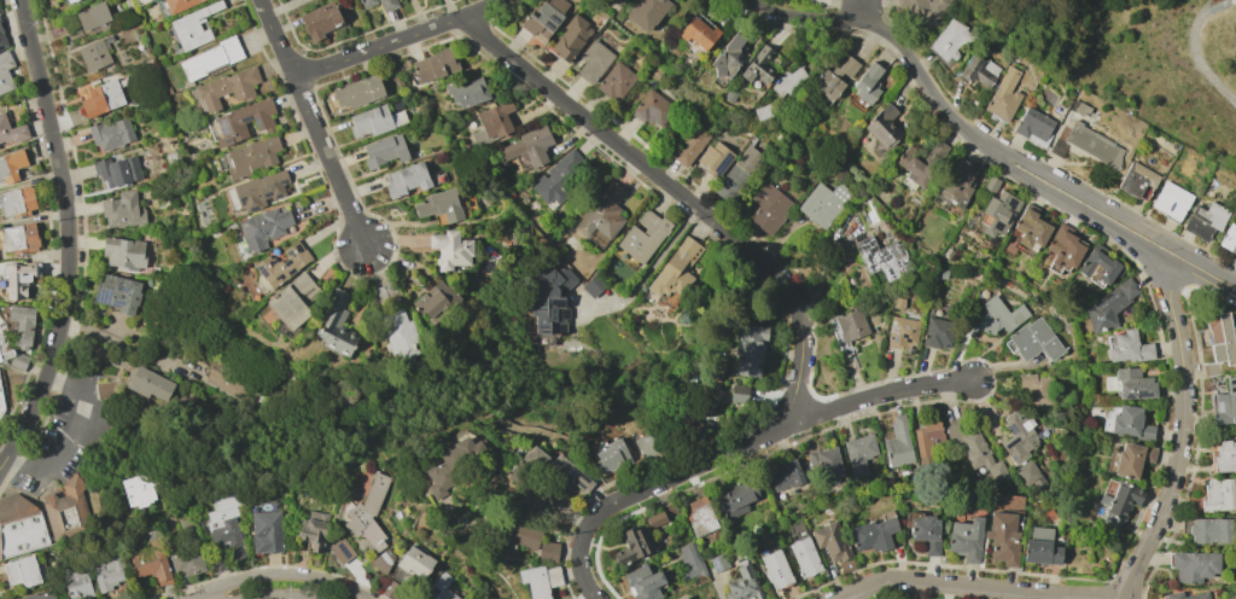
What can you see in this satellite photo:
building: (68, 1)
building: (366, 2)
building: (179, 4)
building: (386, 5)
road: (858, 8)
building: (925, 10)
building: (647, 13)
building: (92, 17)
building: (544, 18)
building: (320, 21)
road: (868, 23)
building: (191, 29)
building: (696, 34)
road: (275, 36)
building: (570, 39)
building: (2, 40)
building: (948, 40)
road: (398, 41)
building: (93, 54)
building: (728, 56)
building: (210, 59)
building: (593, 62)
building: (433, 65)
building: (758, 68)
building: (978, 70)
building: (5, 71)
building: (835, 77)
building: (616, 82)
building: (787, 82)
building: (868, 82)
building: (226, 88)
building: (357, 92)
building: (467, 92)
building: (1003, 95)
building: (100, 98)
building: (1078, 107)
building: (652, 109)
building: (373, 121)
building: (243, 122)
building: (492, 123)
building: (882, 126)
building: (1033, 127)
building: (11, 130)
road: (969, 132)
building: (111, 134)
building: (688, 144)
building: (1088, 145)
building: (527, 149)
building: (384, 150)
road: (328, 155)
building: (250, 156)
building: (715, 158)
building: (921, 162)
building: (11, 167)
building: (117, 171)
building: (737, 174)
building: (559, 176)
building: (406, 179)
building: (1136, 179)
building: (956, 181)
building: (990, 185)
building: (260, 190)
road: (681, 194)
building: (1171, 199)
building: (17, 200)
building: (823, 203)
building: (769, 208)
building: (122, 210)
road: (1078, 210)
road: (1112, 211)
building: (601, 213)
building: (999, 214)
building: (1205, 220)
building: (264, 227)
building: (1030, 228)
building: (642, 235)
building: (1228, 235)
building: (18, 238)
road: (70, 238)
building: (1062, 249)
building: (449, 250)
building: (122, 254)
building: (882, 258)
building: (282, 263)
building: (1097, 266)
road: (651, 268)
building: (675, 273)
building: (18, 279)
road: (1207, 283)
building: (593, 285)
building: (117, 292)
building: (293, 301)
building: (435, 301)
building: (550, 301)
building: (1109, 306)
building: (997, 315)
building: (0, 320)
building: (851, 325)
building: (21, 326)
building: (336, 326)
building: (1, 330)
building: (902, 332)
building: (937, 332)
building: (398, 335)
building: (1034, 341)
building: (1219, 342)
building: (1127, 347)
building: (4, 349)
building: (748, 349)
building: (150, 384)
building: (1132, 384)
building: (1036, 389)
building: (105, 390)
building: (737, 394)
building: (1225, 403)
building: (1, 407)
building: (1130, 423)
road: (70, 434)
building: (1016, 437)
road: (1182, 437)
building: (926, 441)
building: (898, 443)
building: (648, 444)
road: (735, 448)
building: (858, 454)
building: (980, 454)
building: (612, 455)
building: (1224, 455)
building: (1132, 459)
building: (824, 464)
building: (455, 465)
building: (556, 469)
building: (1028, 473)
building: (785, 475)
building: (136, 492)
building: (1218, 495)
building: (736, 498)
building: (1120, 500)
building: (4, 510)
building: (69, 511)
building: (366, 516)
building: (700, 516)
building: (654, 519)
building: (186, 525)
building: (223, 525)
building: (22, 528)
building: (313, 530)
building: (1209, 530)
building: (266, 531)
building: (873, 533)
building: (925, 533)
building: (1039, 533)
building: (517, 537)
building: (1003, 537)
building: (964, 539)
building: (830, 541)
building: (631, 545)
building: (340, 551)
building: (548, 552)
building: (1040, 552)
building: (805, 558)
building: (150, 559)
building: (186, 559)
building: (383, 560)
building: (414, 562)
building: (689, 562)
building: (717, 562)
building: (1194, 565)
building: (775, 569)
building: (21, 571)
building: (107, 571)
road: (291, 575)
building: (538, 580)
building: (642, 582)
building: (76, 583)
building: (742, 585)
building: (437, 588)
road: (984, 588)
building: (390, 589)
building: (39, 595)
building: (1185, 595)
road: (278, 597)
building: (681, 597)

